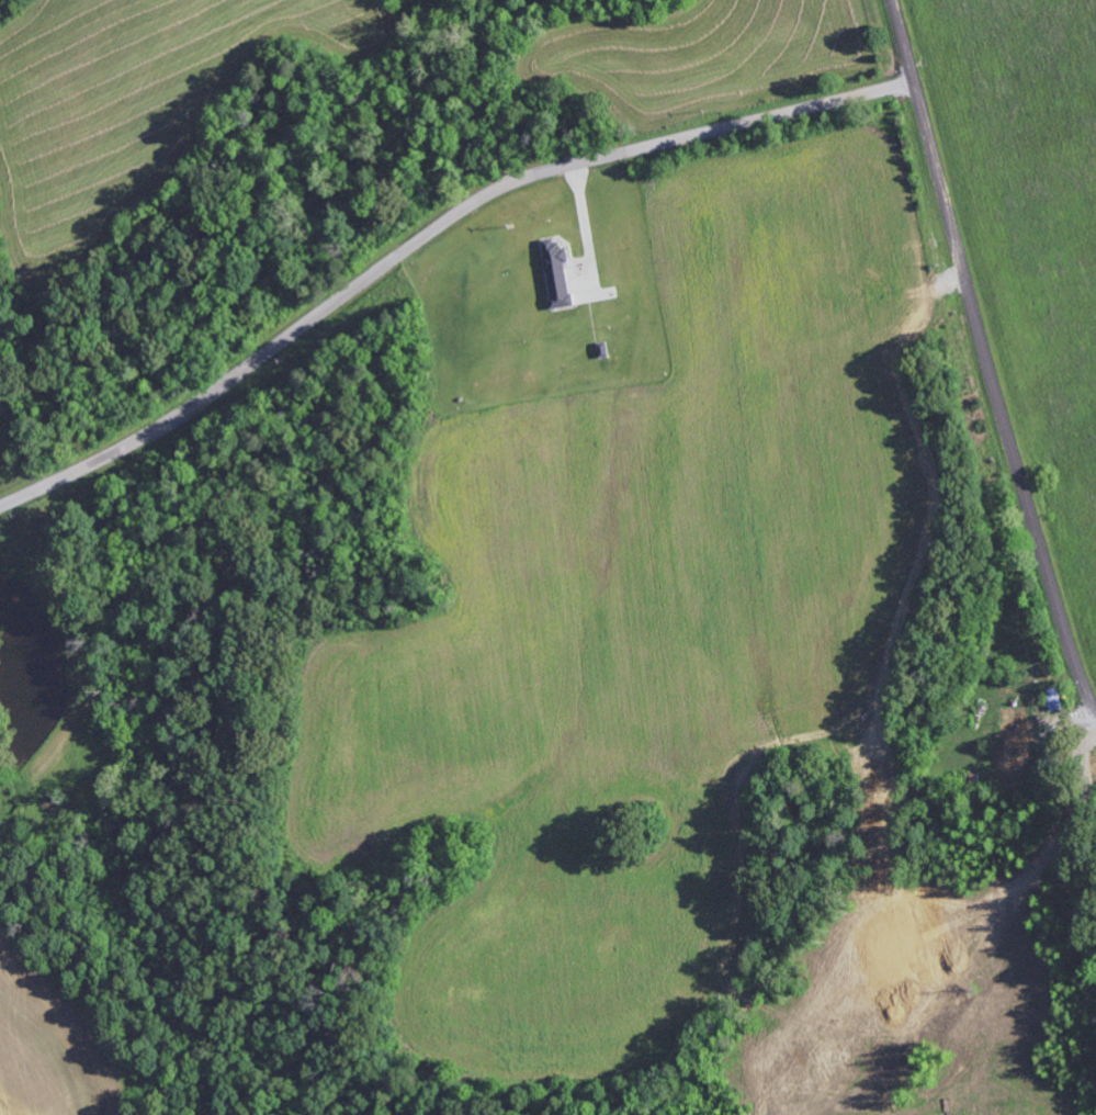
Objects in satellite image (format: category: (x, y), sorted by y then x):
road: (429, 230)
building: (561, 273)
road: (987, 358)
building: (1054, 699)
building: (1018, 736)

